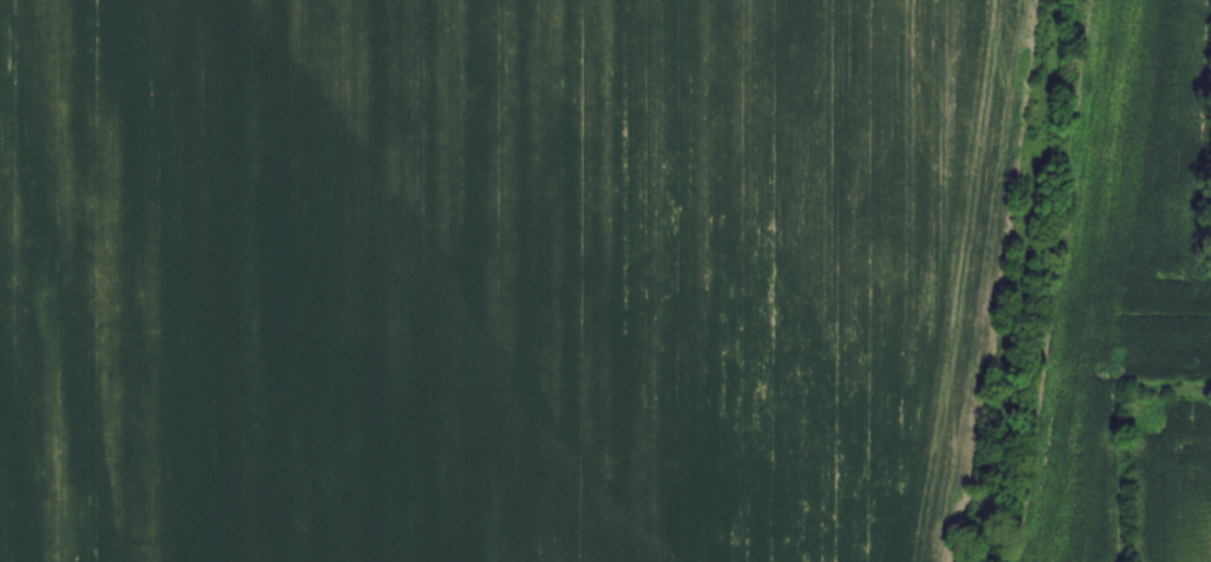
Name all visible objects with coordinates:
crop: (1129, 304)

